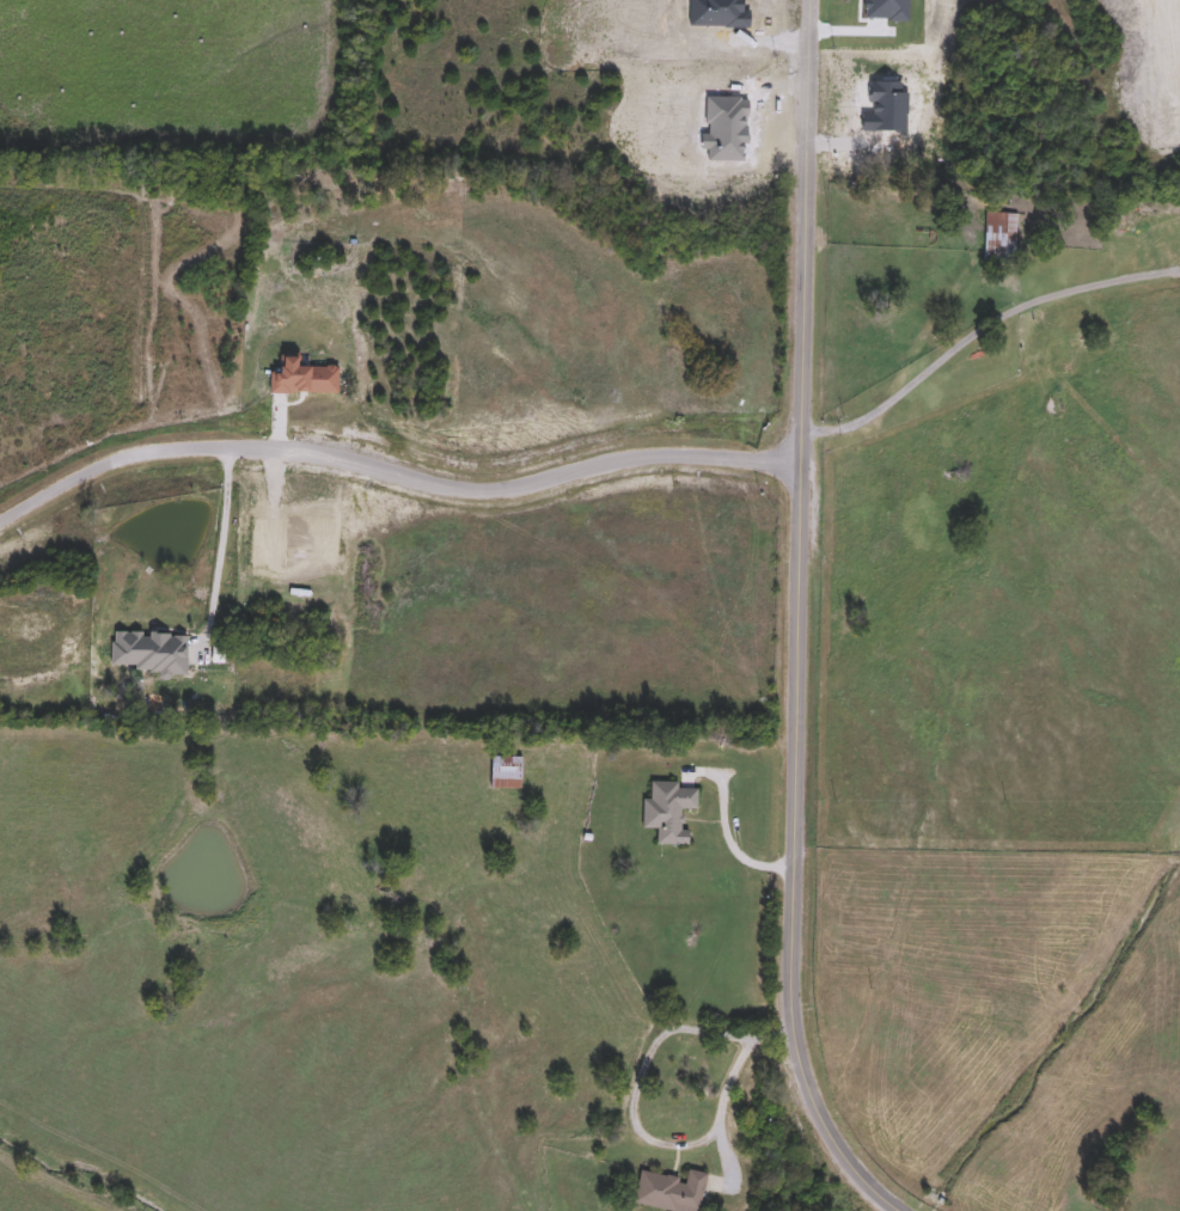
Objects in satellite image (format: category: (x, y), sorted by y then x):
building: (1001, 234)
road: (980, 331)
road: (395, 470)
road: (215, 548)
road: (797, 624)
building: (149, 652)
building: (507, 773)
building: (670, 812)
road: (727, 832)
road: (640, 1078)
road: (728, 1090)
building: (673, 1192)

